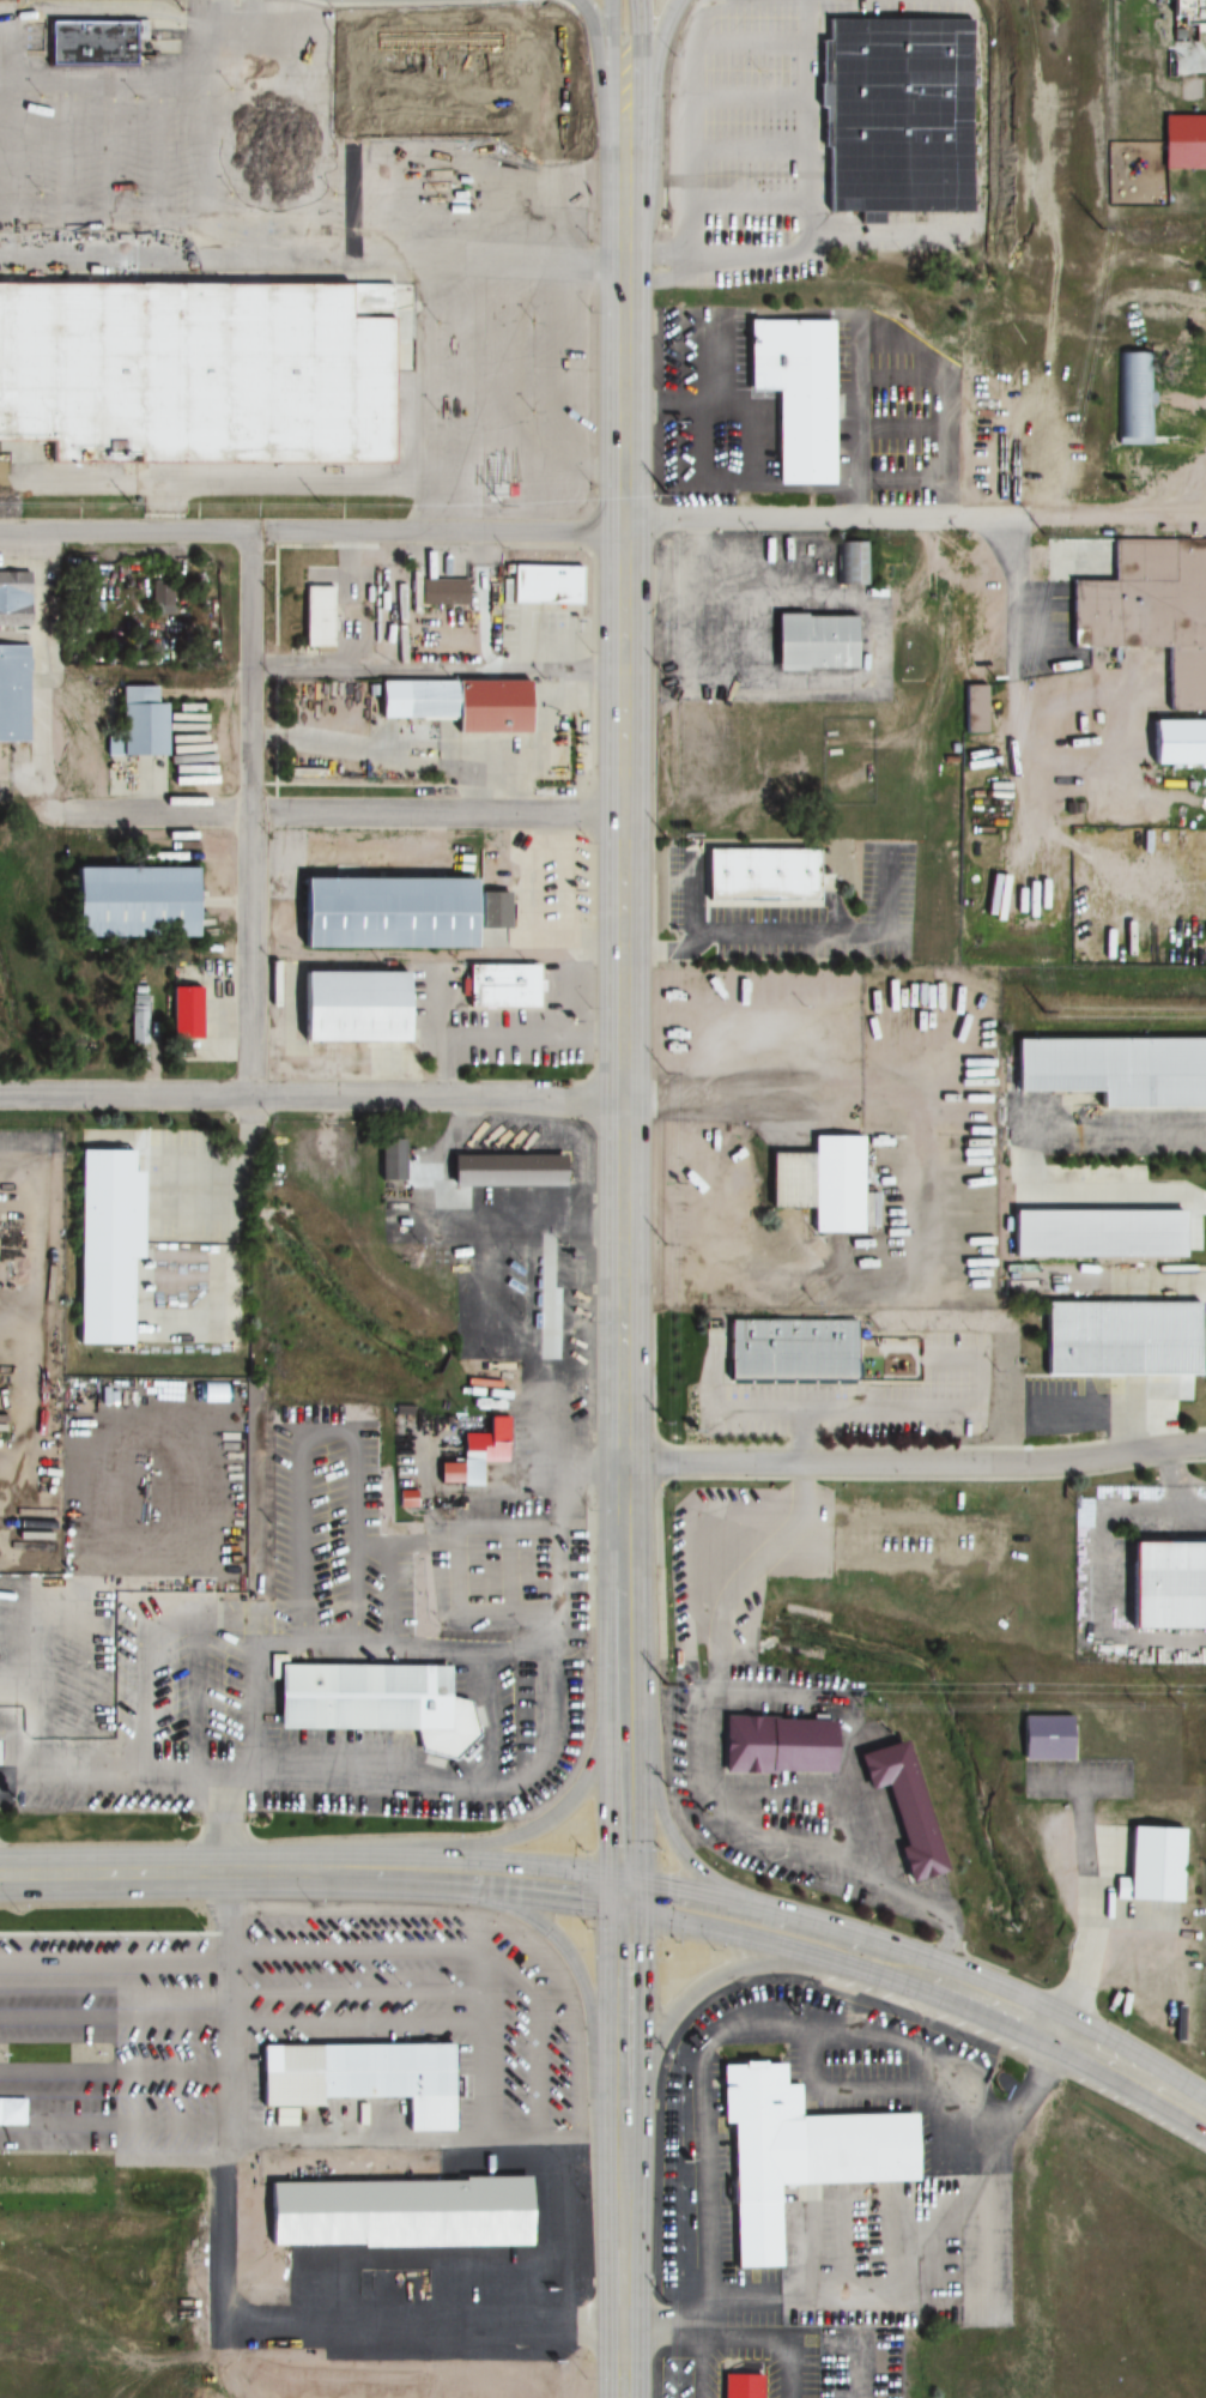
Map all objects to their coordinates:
road: (374, 1)
road: (574, 2)
building: (1187, 18)
building: (95, 40)
road: (583, 54)
road: (596, 62)
road: (611, 64)
road: (653, 84)
building: (893, 115)
road: (640, 145)
road: (613, 209)
road: (816, 219)
power tower: (1097, 228)
road: (309, 265)
building: (195, 367)
building: (794, 394)
building: (1132, 398)
power tower: (659, 495)
road: (602, 528)
power tower: (1040, 532)
building: (1057, 551)
building: (849, 563)
building: (539, 586)
building: (441, 593)
building: (13, 599)
building: (163, 599)
building: (1150, 611)
building: (315, 617)
building: (812, 642)
road: (438, 672)
building: (13, 694)
building: (455, 703)
building: (974, 708)
building: (133, 721)
building: (1176, 742)
power tower: (996, 771)
road: (251, 813)
road: (335, 815)
power tower: (665, 838)
road: (623, 876)
building: (760, 876)
building: (129, 902)
building: (394, 913)
building: (499, 987)
building: (351, 1007)
power tower: (1032, 1011)
building: (183, 1013)
building: (1113, 1070)
road: (311, 1095)
road: (770, 1100)
building: (392, 1160)
building: (503, 1172)
building: (834, 1185)
building: (1095, 1234)
building: (104, 1244)
building: (1119, 1339)
building: (790, 1353)
building: (480, 1450)
road: (915, 1464)
road: (624, 1557)
building: (1165, 1587)
power tower: (665, 1686)
power tower: (812, 1686)
power tower: (1016, 1689)
power tower: (1169, 1690)
building: (380, 1696)
building: (1043, 1739)
building: (774, 1745)
building: (2, 1747)
road: (624, 1772)
power tower: (665, 1787)
road: (656, 1805)
road: (566, 1806)
building: (901, 1811)
traffic signals: (624, 1843)
building: (1150, 1867)
road: (206, 1874)
road: (517, 1881)
traffic signals: (581, 1890)
traffic signals: (669, 1890)
road: (786, 1911)
traffic signals: (623, 1944)
road: (776, 1944)
road: (589, 1999)
road: (669, 2019)
road: (1074, 2040)
power tower: (666, 2053)
road: (622, 2060)
building: (368, 2073)
building: (806, 2152)
building: (407, 2207)
road: (623, 2312)
building: (753, 2385)

